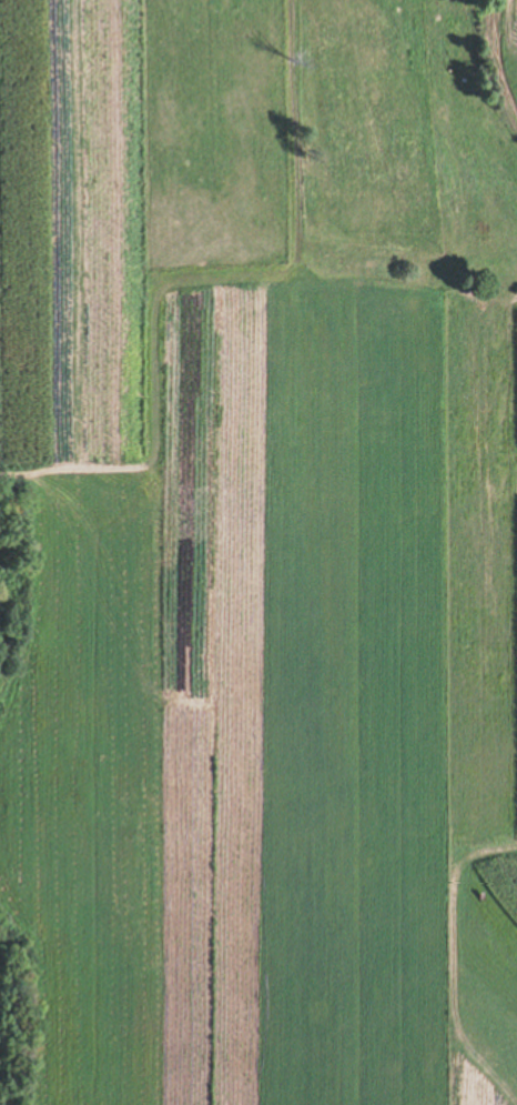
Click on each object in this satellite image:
crop: (514, 39)
crop: (220, 175)
crop: (280, 720)

